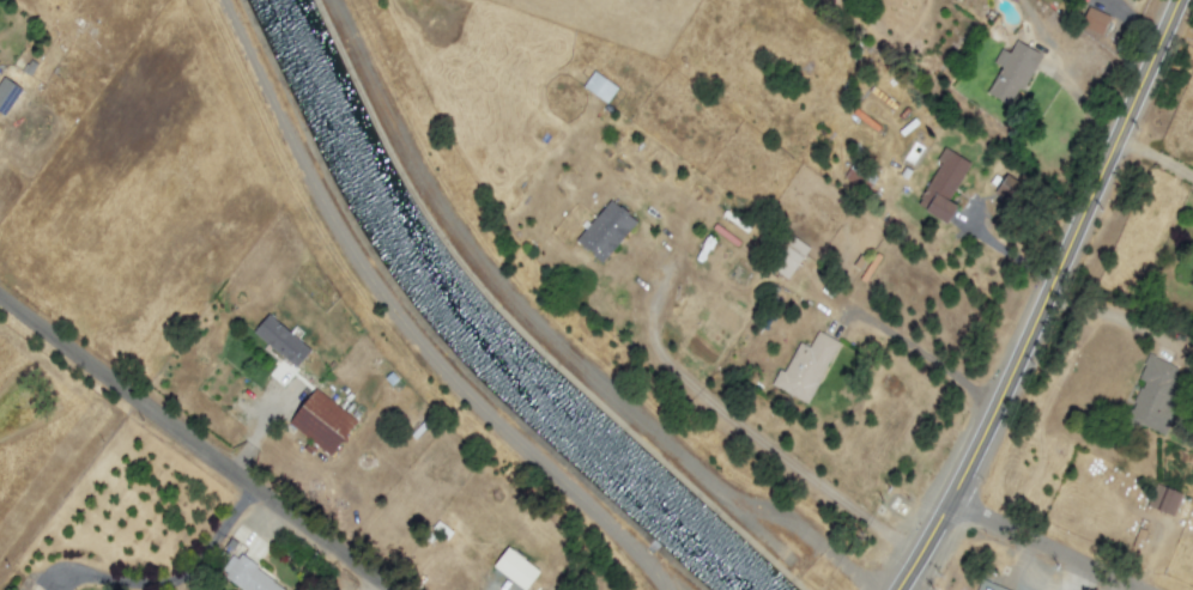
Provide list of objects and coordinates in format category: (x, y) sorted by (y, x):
building: (1094, 20)
building: (1011, 73)
building: (599, 87)
building: (7, 96)
road: (1082, 102)
road: (1155, 158)
building: (943, 185)
building: (1007, 188)
building: (788, 257)
road: (1046, 298)
building: (280, 341)
road: (925, 357)
building: (805, 367)
building: (1153, 396)
building: (321, 422)
road: (762, 439)
road: (195, 443)
building: (1163, 500)
road: (1046, 547)
building: (514, 568)
building: (247, 576)
road: (171, 579)
road: (1112, 583)

